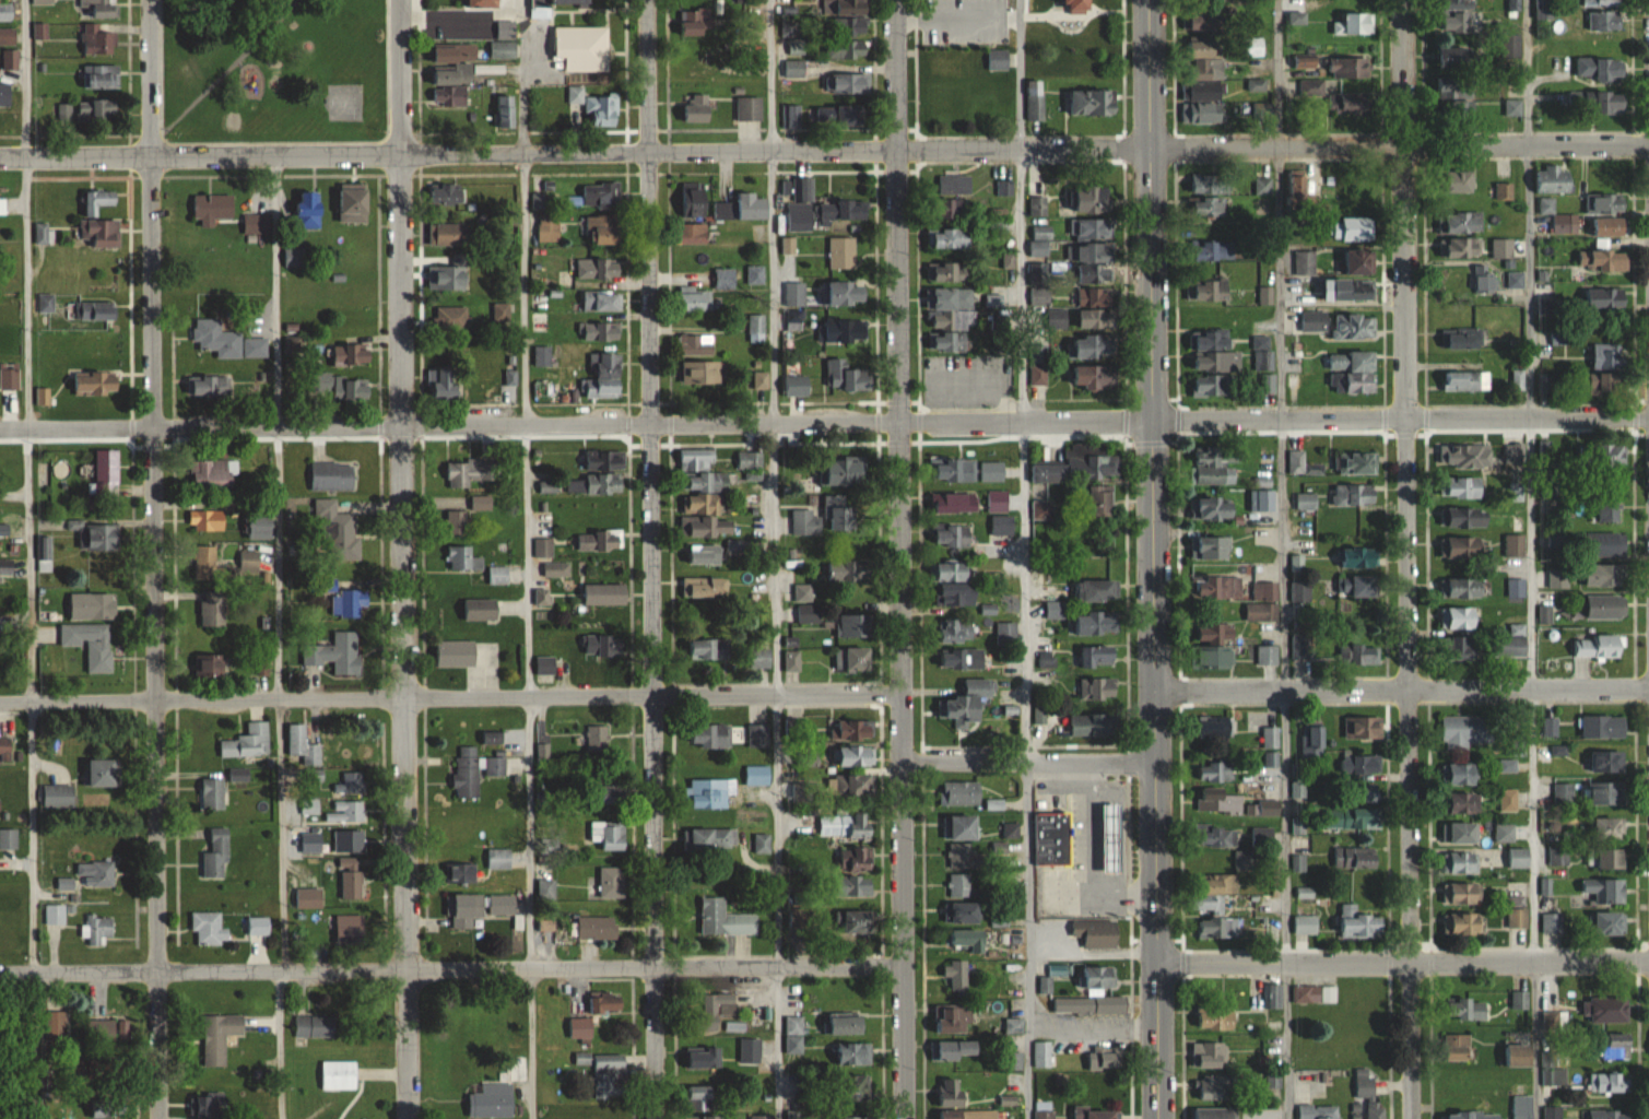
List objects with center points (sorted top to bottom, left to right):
building: (43, 2)
building: (570, 2)
building: (485, 3)
building: (847, 7)
building: (98, 9)
building: (1211, 10)
building: (5, 12)
road: (957, 14)
building: (1604, 20)
building: (1453, 22)
building: (697, 23)
building: (1361, 23)
building: (847, 26)
building: (8, 36)
building: (98, 40)
building: (504, 40)
building: (797, 47)
building: (582, 48)
building: (846, 49)
building: (1205, 49)
building: (455, 54)
building: (1457, 58)
building: (9, 59)
building: (999, 59)
building: (794, 68)
building: (1357, 68)
building: (1600, 69)
building: (102, 76)
building: (450, 76)
park: (278, 79)
building: (849, 82)
building: (1258, 85)
building: (1312, 89)
building: (1205, 93)
building: (4, 94)
building: (450, 95)
building: (575, 99)
building: (1036, 99)
building: (1457, 99)
building: (1095, 102)
building: (1606, 102)
building: (1358, 105)
building: (697, 107)
building: (602, 108)
building: (749, 108)
building: (90, 110)
building: (506, 110)
building: (841, 115)
building: (791, 117)
road: (1399, 143)
road: (575, 152)
building: (1553, 179)
building: (1458, 180)
building: (1212, 184)
building: (955, 185)
building: (1300, 186)
building: (1504, 190)
building: (447, 193)
building: (600, 195)
building: (694, 199)
building: (1094, 199)
building: (99, 200)
building: (354, 202)
building: (1605, 202)
building: (753, 204)
building: (1545, 205)
building: (2, 207)
building: (1038, 207)
building: (213, 208)
building: (1212, 209)
building: (309, 210)
building: (723, 210)
building: (961, 210)
building: (845, 212)
building: (1463, 222)
building: (258, 223)
building: (1565, 223)
building: (550, 225)
building: (999, 225)
building: (1609, 226)
building: (1093, 228)
building: (1358, 228)
building: (604, 229)
building: (43, 233)
building: (101, 233)
building: (694, 233)
building: (449, 234)
building: (952, 238)
building: (1464, 247)
building: (1506, 248)
building: (1214, 249)
building: (843, 252)
building: (295, 257)
building: (1609, 260)
building: (1362, 261)
building: (1306, 262)
building: (600, 267)
building: (951, 271)
building: (754, 275)
building: (451, 276)
building: (723, 279)
building: (1515, 283)
building: (1095, 285)
building: (1485, 287)
building: (1213, 288)
building: (1354, 288)
building: (847, 293)
building: (1039, 296)
building: (696, 298)
building: (1605, 299)
building: (602, 301)
building: (97, 311)
building: (952, 317)
building: (451, 318)
building: (1056, 318)
building: (793, 319)
building: (1315, 320)
building: (540, 321)
building: (1355, 326)
building: (756, 328)
building: (601, 331)
building: (843, 331)
building: (1462, 338)
building: (227, 341)
building: (696, 344)
building: (1094, 346)
building: (293, 348)
building: (352, 355)
building: (543, 355)
building: (1264, 355)
building: (1213, 361)
building: (1353, 361)
building: (1038, 375)
building: (845, 376)
building: (605, 377)
building: (700, 377)
building: (1094, 377)
building: (9, 379)
building: (1518, 379)
building: (759, 380)
building: (1467, 380)
building: (96, 382)
building: (320, 382)
building: (447, 382)
building: (1362, 382)
building: (1607, 382)
building: (796, 384)
building: (210, 386)
building: (348, 390)
road: (1399, 419)
road: (575, 423)
building: (1551, 451)
building: (1616, 455)
building: (1470, 456)
building: (605, 460)
building: (751, 461)
building: (1303, 463)
building: (1357, 463)
building: (1216, 464)
building: (1080, 466)
building: (956, 470)
building: (107, 472)
building: (469, 472)
building: (702, 472)
building: (846, 472)
building: (216, 473)
building: (332, 475)
building: (594, 484)
building: (1465, 487)
building: (1354, 494)
building: (1265, 499)
building: (997, 500)
building: (1102, 502)
building: (481, 503)
building: (956, 503)
road: (527, 506)
building: (1214, 507)
building: (1609, 509)
building: (838, 515)
building: (705, 517)
building: (1468, 517)
building: (207, 520)
building: (1355, 521)
building: (457, 522)
building: (805, 522)
building: (259, 526)
building: (1001, 526)
building: (1314, 527)
building: (338, 531)
building: (97, 534)
building: (951, 535)
building: (600, 541)
building: (1606, 544)
building: (1516, 545)
building: (1211, 547)
building: (1462, 547)
building: (705, 554)
building: (466, 557)
building: (1359, 557)
road: (28, 558)
road: (402, 558)
road: (649, 558)
road: (1283, 558)
road: (1407, 558)
road: (154, 559)
road: (773, 559)
road: (899, 559)
road: (1023, 559)
road: (1153, 559)
road: (1531, 559)
building: (205, 563)
building: (250, 563)
building: (7, 567)
building: (556, 569)
building: (847, 572)
building: (953, 572)
building: (498, 575)
building: (1607, 575)
building: (1096, 584)
building: (1358, 587)
building: (705, 588)
building: (1215, 588)
building: (1463, 588)
building: (1518, 588)
building: (1300, 591)
building: (604, 594)
building: (954, 596)
building: (350, 602)
building: (93, 605)
building: (1607, 606)
building: (213, 609)
building: (481, 609)
building: (1055, 610)
building: (809, 614)
building: (1461, 619)
building: (1096, 623)
building: (856, 625)
building: (956, 631)
building: (1005, 634)
building: (1216, 634)
road: (279, 637)
building: (91, 644)
building: (604, 645)
building: (1304, 645)
building: (1513, 647)
building: (1599, 647)
building: (709, 649)
building: (1465, 649)
building: (338, 653)
building: (456, 653)
building: (1359, 655)
building: (1268, 656)
building: (1097, 657)
building: (759, 658)
building: (962, 659)
building: (1215, 659)
building: (791, 660)
building: (852, 660)
building: (210, 667)
building: (1097, 688)
road: (1401, 690)
road: (450, 698)
building: (968, 704)
building: (1093, 725)
building: (756, 727)
building: (1214, 727)
building: (1605, 727)
building: (1368, 729)
building: (851, 730)
building: (1463, 732)
building: (710, 737)
building: (1270, 738)
building: (597, 739)
building: (248, 742)
building: (1312, 742)
building: (302, 743)
building: (4, 749)
building: (853, 756)
building: (1270, 759)
building: (1609, 762)
road: (1027, 763)
building: (1362, 764)
building: (1216, 770)
building: (474, 771)
building: (104, 774)
building: (1462, 775)
building: (757, 776)
building: (350, 784)
building: (856, 786)
building: (1295, 790)
building: (711, 793)
building: (959, 793)
building: (1368, 793)
building: (1605, 793)
building: (213, 794)
building: (611, 794)
building: (1564, 796)
building: (58, 797)
building: (1508, 800)
building: (1220, 801)
building: (1465, 803)
building: (348, 812)
building: (1297, 818)
building: (1353, 818)
building: (846, 825)
building: (964, 827)
building: (1610, 828)
building: (1505, 833)
building: (1465, 834)
building: (609, 835)
building: (1051, 838)
building: (1112, 838)
building: (8, 839)
building: (711, 840)
building: (349, 841)
building: (761, 844)
building: (216, 855)
building: (1558, 856)
building: (963, 857)
road: (1087, 857)
building: (1519, 858)
building: (1356, 859)
building: (1606, 859)
building: (499, 860)
building: (856, 860)
building: (1463, 863)
building: (95, 872)
building: (460, 874)
building: (351, 881)
building: (612, 883)
building: (959, 885)
building: (855, 887)
building: (546, 890)
building: (1605, 891)
building: (1214, 892)
building: (1467, 894)
building: (309, 899)
building: (505, 906)
building: (467, 910)
building: (963, 914)
building: (801, 918)
building: (1518, 918)
building: (725, 919)
building: (859, 923)
building: (1552, 923)
building: (1611, 923)
building: (1306, 924)
building: (1361, 924)
building: (1465, 924)
building: (259, 926)
building: (207, 928)
building: (1210, 928)
building: (351, 929)
building: (598, 929)
building: (98, 930)
building: (1096, 934)
building: (971, 940)
road: (1403, 964)
road: (451, 970)
building: (958, 978)
building: (1099, 980)
building: (1316, 994)
building: (1519, 1001)
building: (605, 1003)
building: (1089, 1005)
building: (1468, 1010)
building: (1605, 1010)
building: (716, 1011)
building: (955, 1018)
building: (1215, 1020)
building: (1551, 1022)
building: (845, 1024)
building: (315, 1026)
building: (56, 1027)
building: (115, 1029)
building: (580, 1029)
building: (792, 1036)
building: (220, 1037)
building: (1616, 1046)
building: (1458, 1048)
building: (750, 1051)
building: (954, 1051)
building: (853, 1055)
building: (1041, 1056)
building: (1209, 1056)
building: (1518, 1057)
building: (703, 1059)
building: (1105, 1059)
building: (517, 1069)
building: (1552, 1069)
building: (339, 1076)
building: (609, 1077)
building: (1610, 1084)
building: (1214, 1087)
building: (853, 1088)
building: (952, 1093)
building: (699, 1099)
building: (1367, 1100)
building: (491, 1102)
building: (205, 1107)
building: (104, 1108)
building: (1043, 1110)
building: (1319, 1112)
building: (1552, 1112)
building: (1096, 1114)
building: (1215, 1114)
building: (970, 1115)
building: (1521, 1115)
building: (1609, 1115)
building: (1457, 1117)
building: (709, 1118)
building: (763, 1118)

